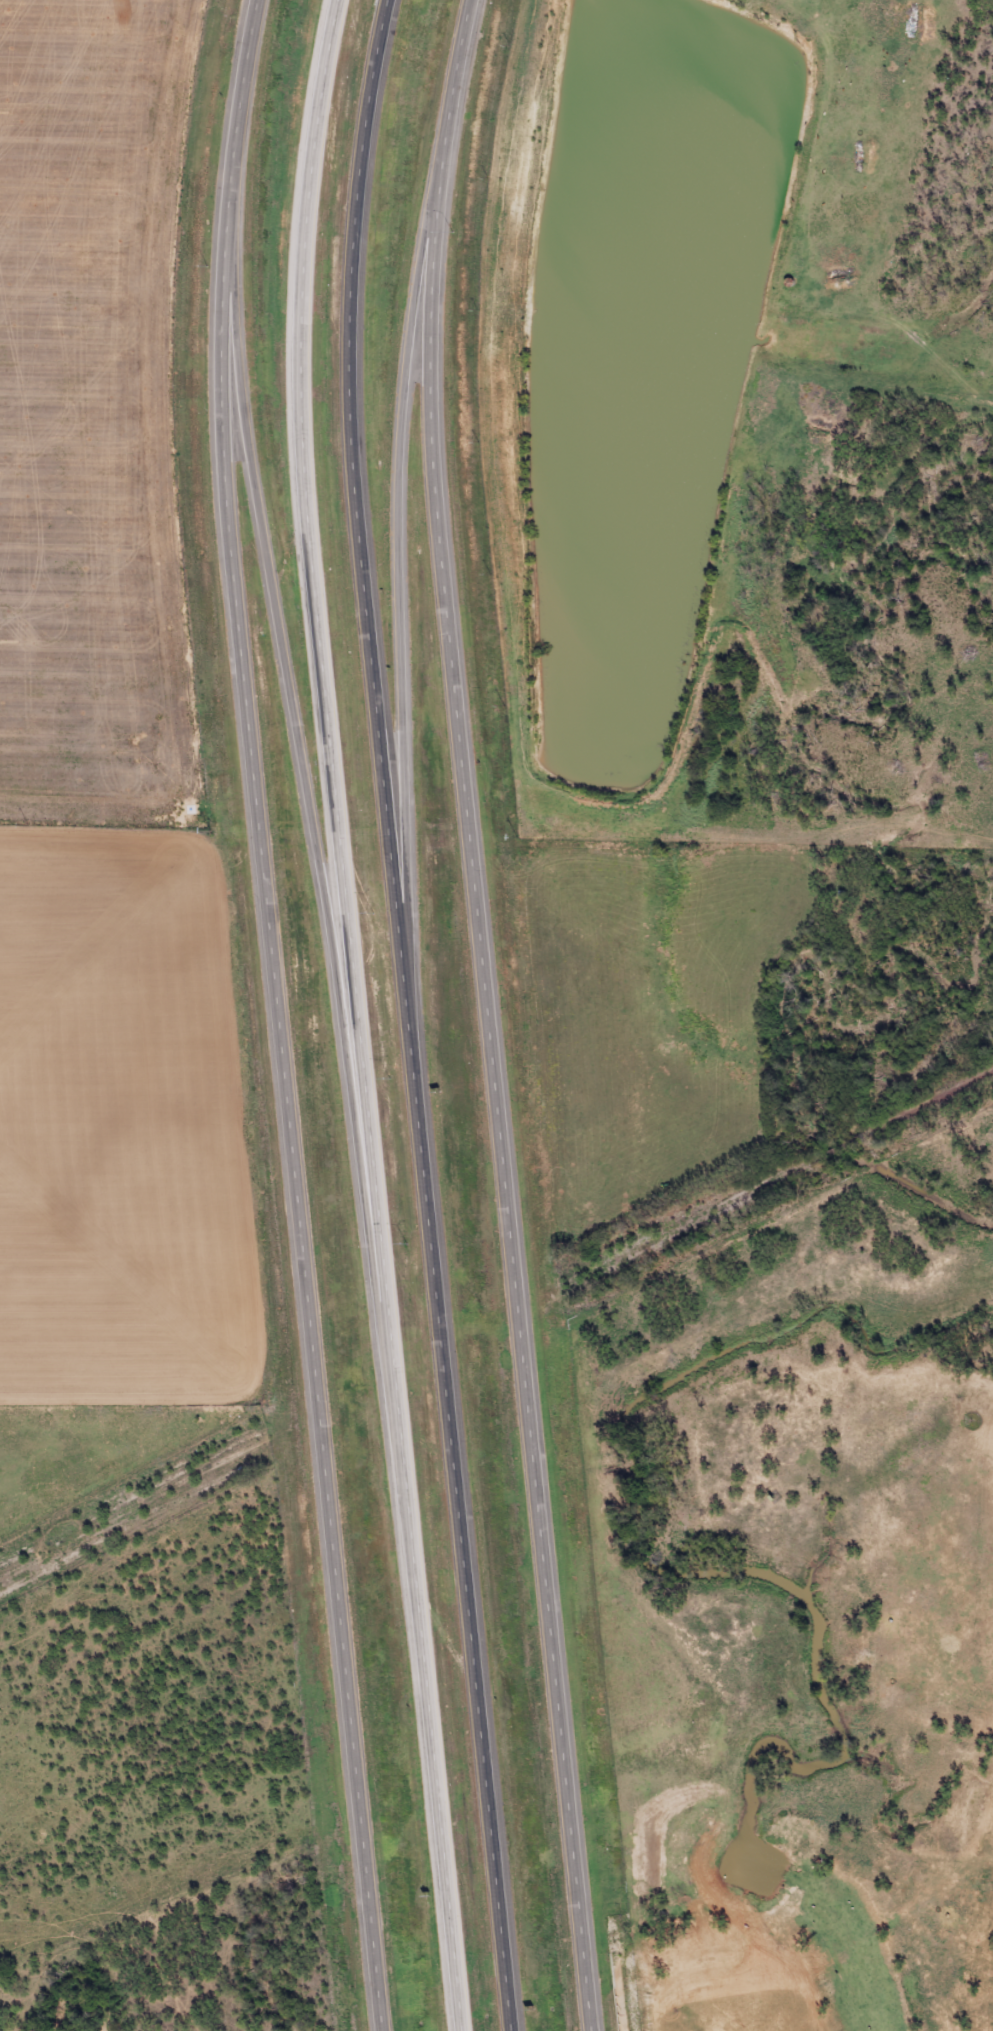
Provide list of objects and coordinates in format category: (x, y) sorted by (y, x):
road: (396, 569)
road: (301, 770)
road: (275, 1015)
road: (406, 1015)
road: (486, 1015)
road: (355, 1016)
railway: (496, 1323)

